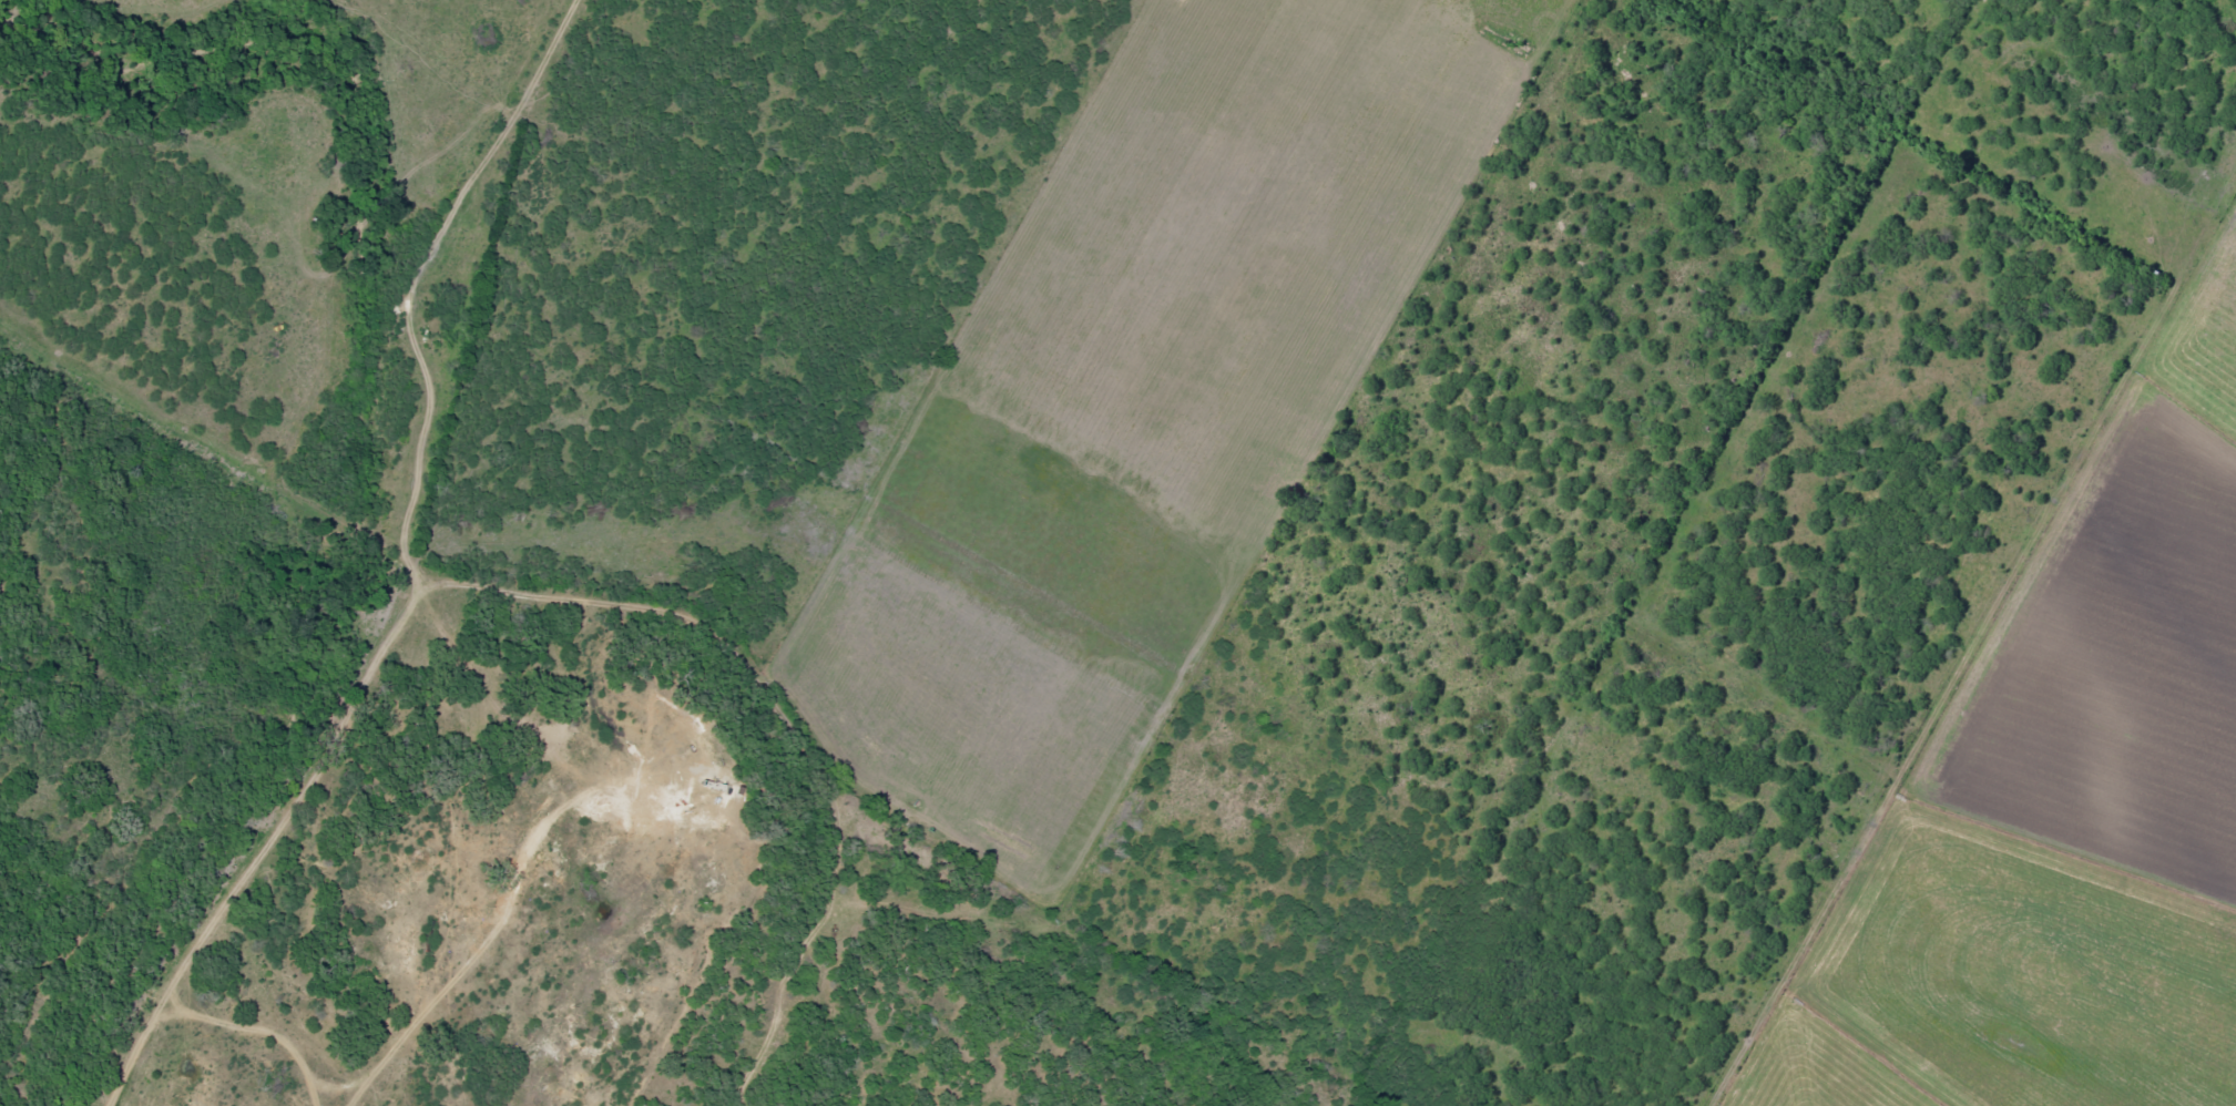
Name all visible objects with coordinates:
road: (433, 543)
road: (178, 779)
road: (811, 903)

